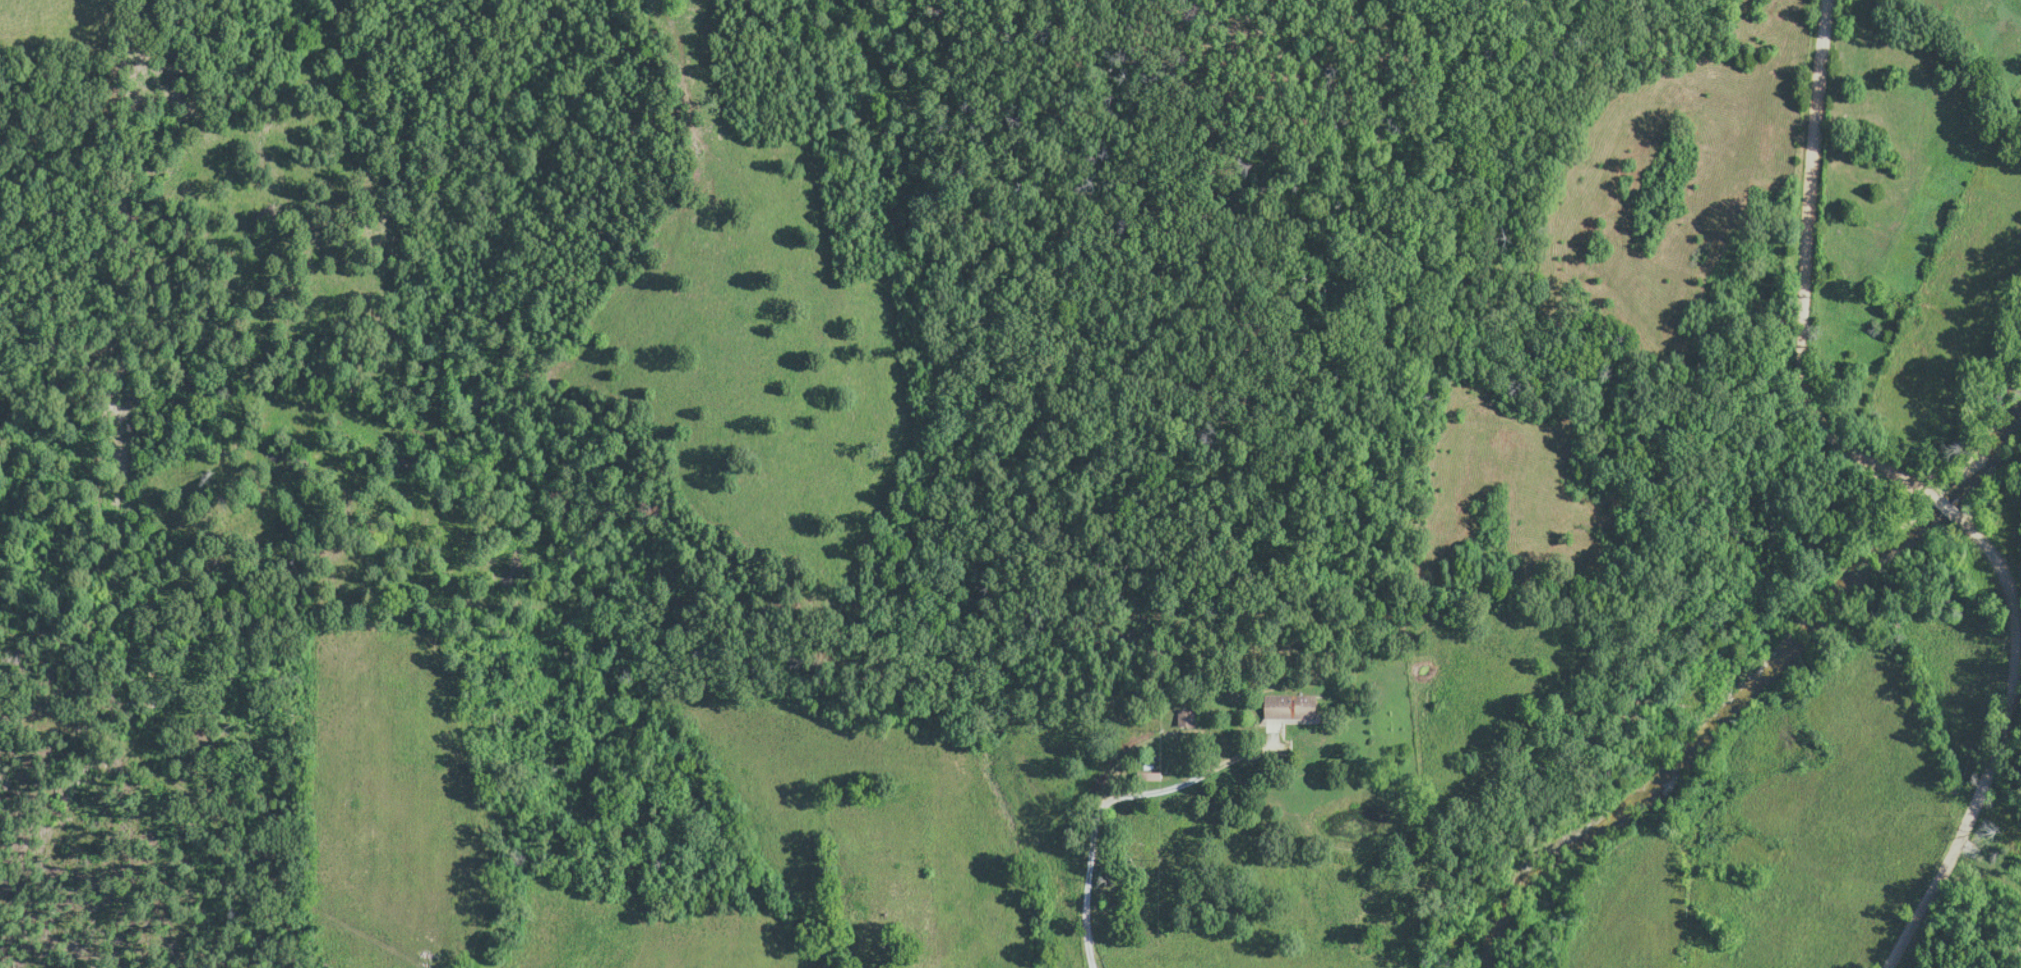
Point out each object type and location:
road: (1926, 485)
building: (1293, 709)
building: (1186, 720)
building: (1148, 777)
road: (1104, 793)

